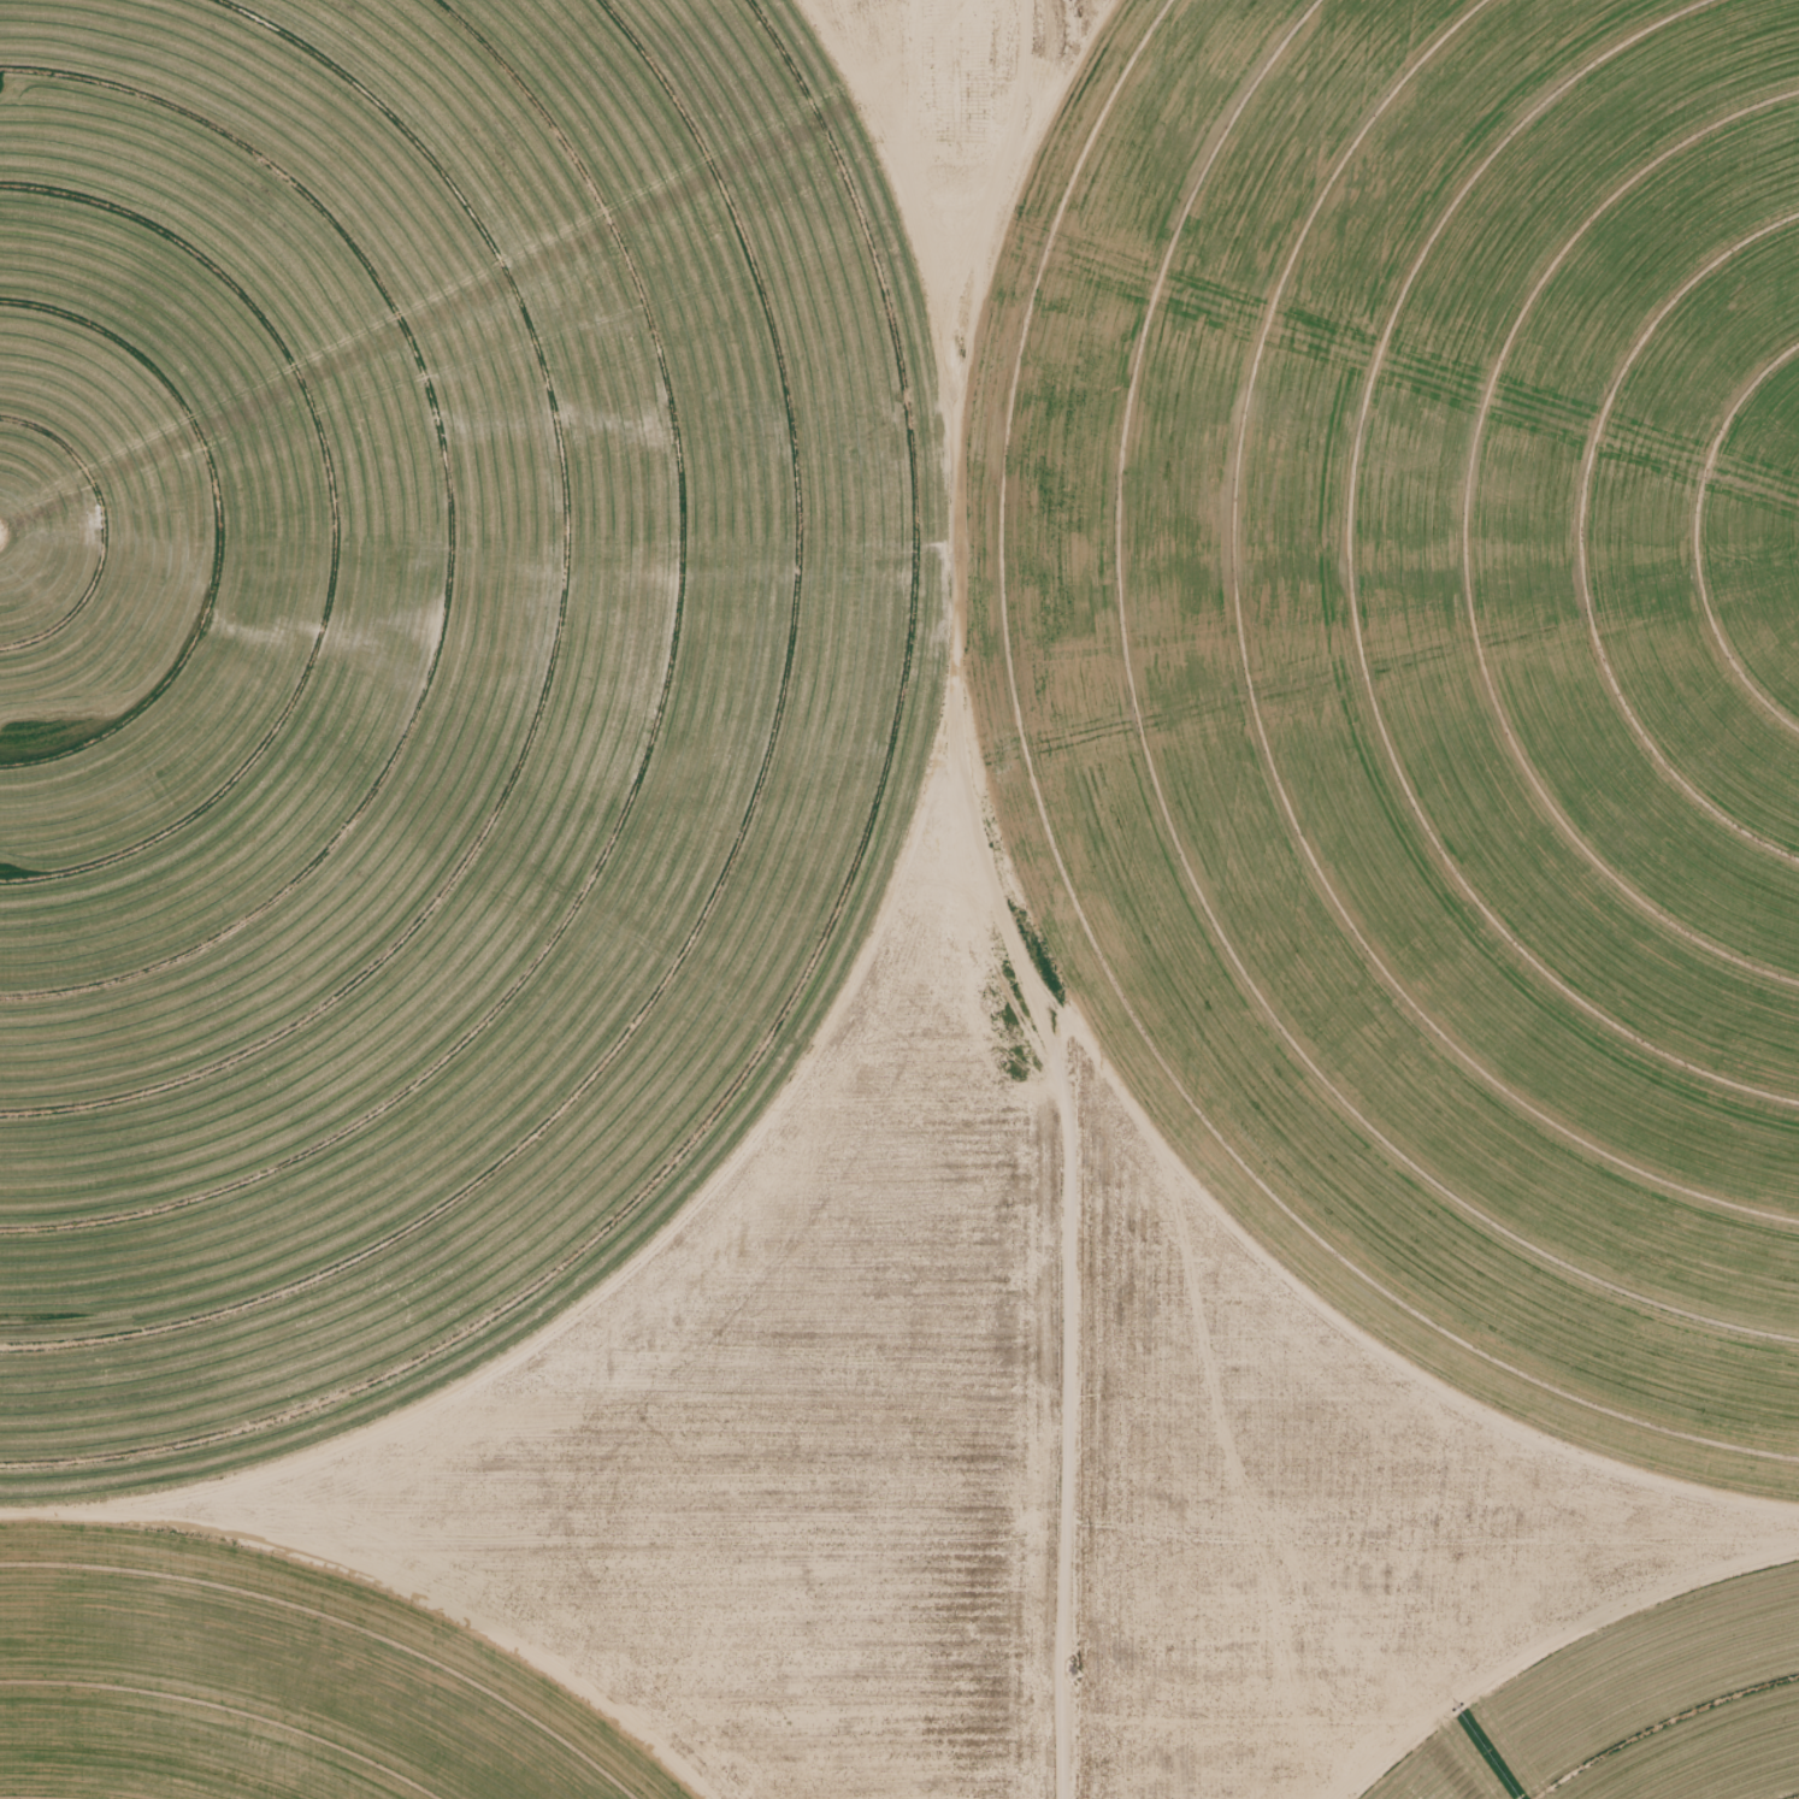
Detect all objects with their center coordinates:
crop: (1431, 644)
crop: (414, 667)
road: (1437, 1568)
crop: (258, 1694)

